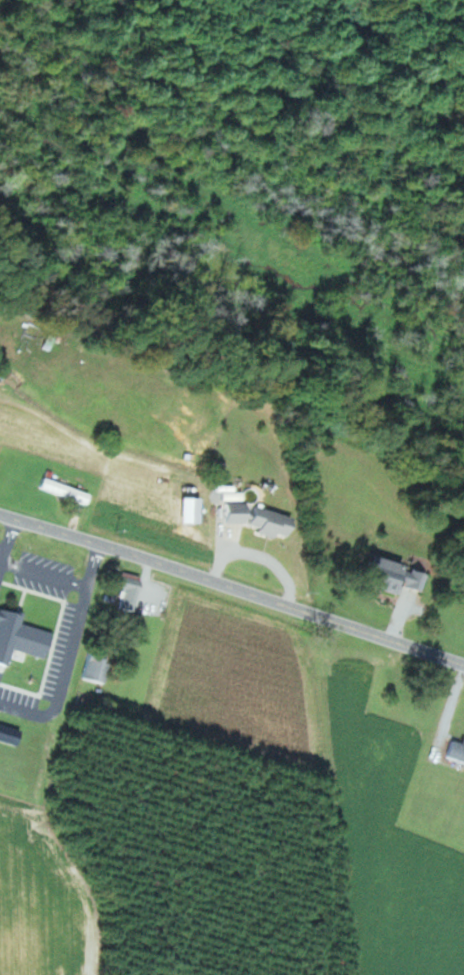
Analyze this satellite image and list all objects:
building: (64, 490)
building: (255, 519)
building: (384, 576)
building: (126, 590)
road: (232, 591)
building: (20, 637)
building: (93, 668)

